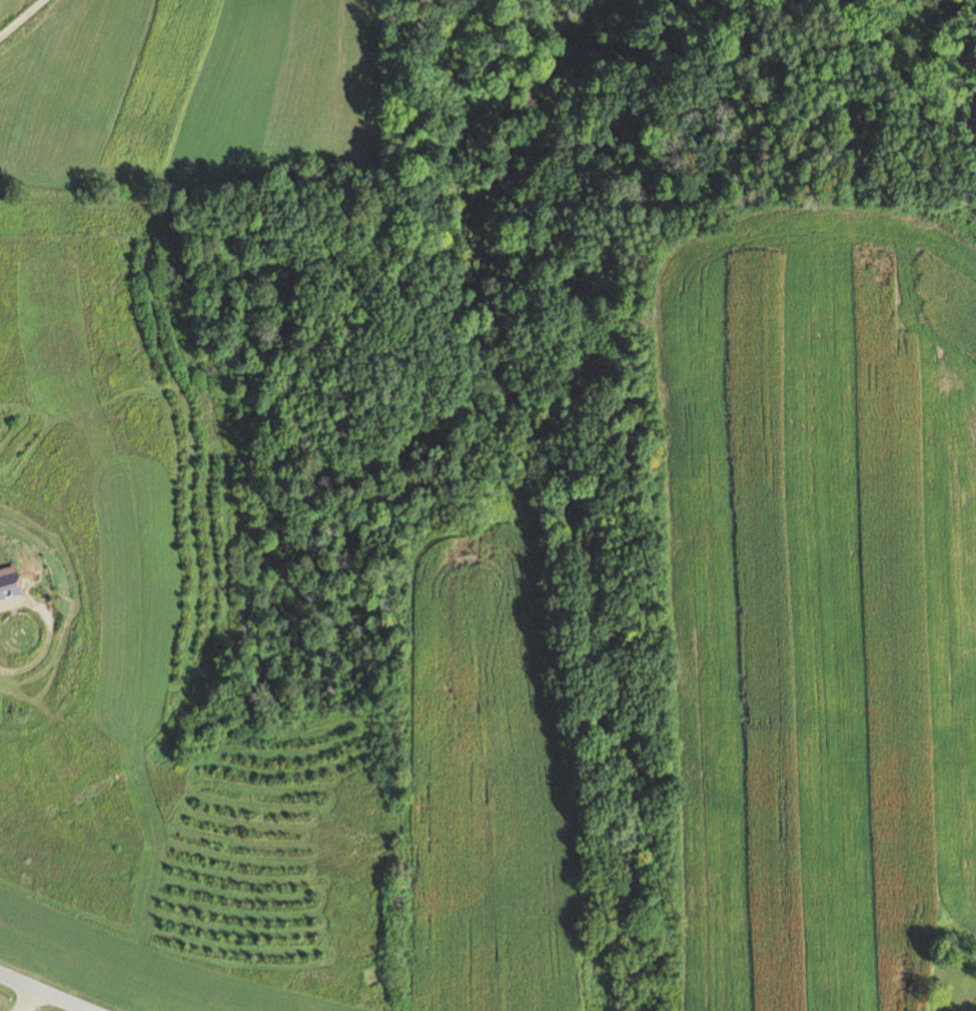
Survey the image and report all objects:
road: (17, 15)
building: (10, 585)
road: (40, 994)
road: (29, 1002)

